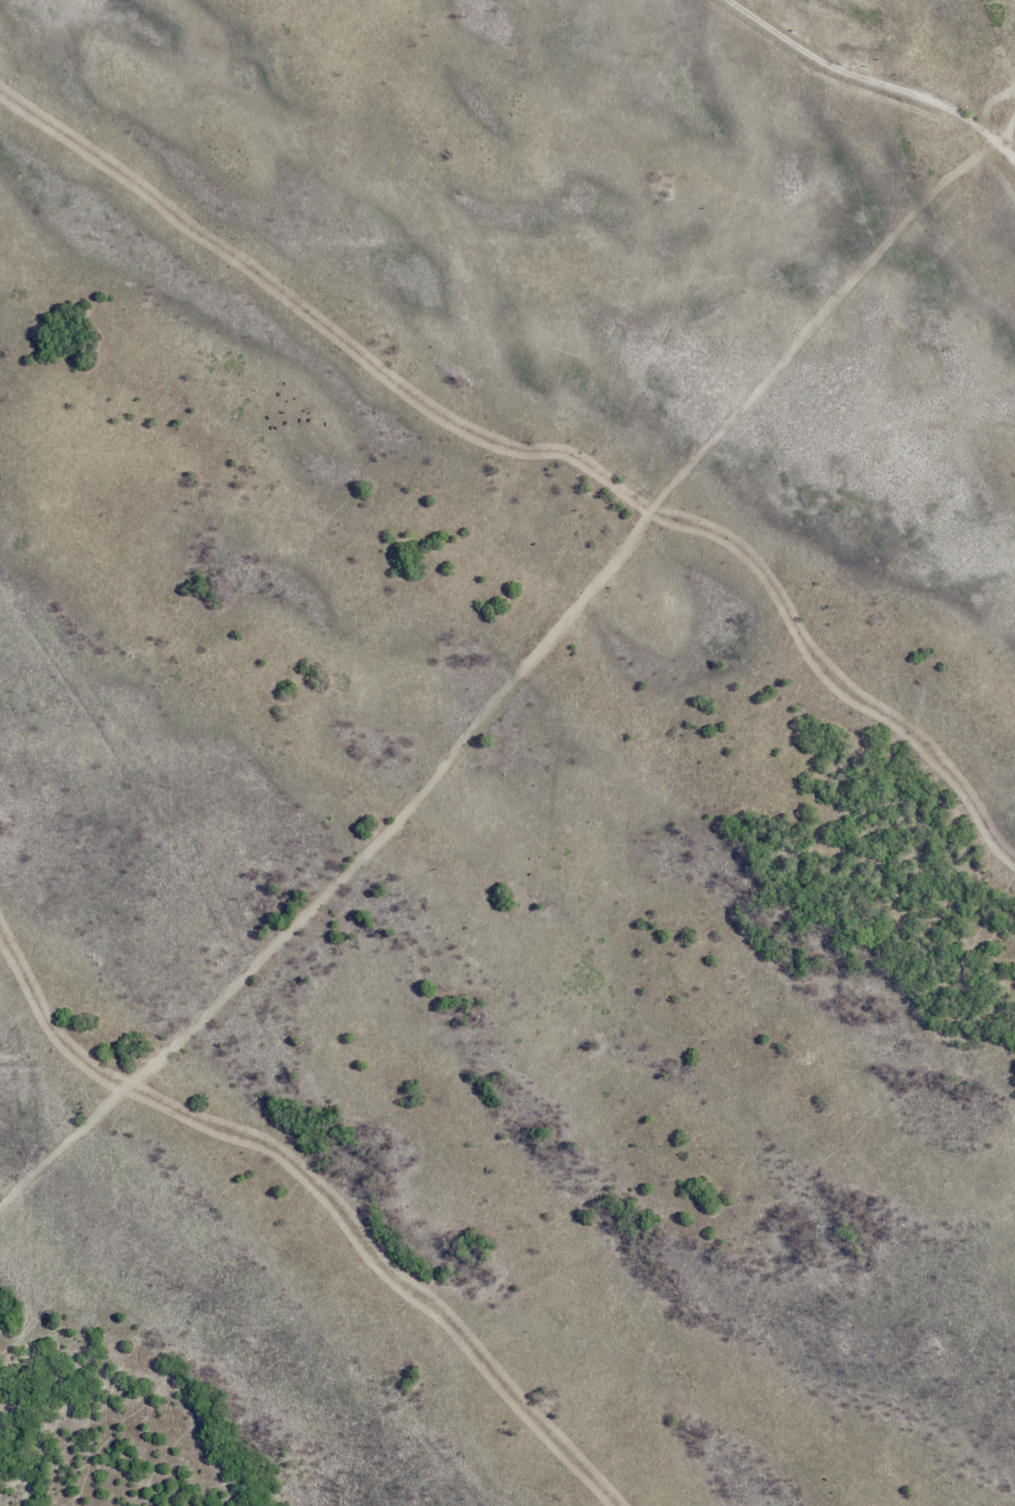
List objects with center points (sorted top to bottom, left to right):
road: (873, 102)

